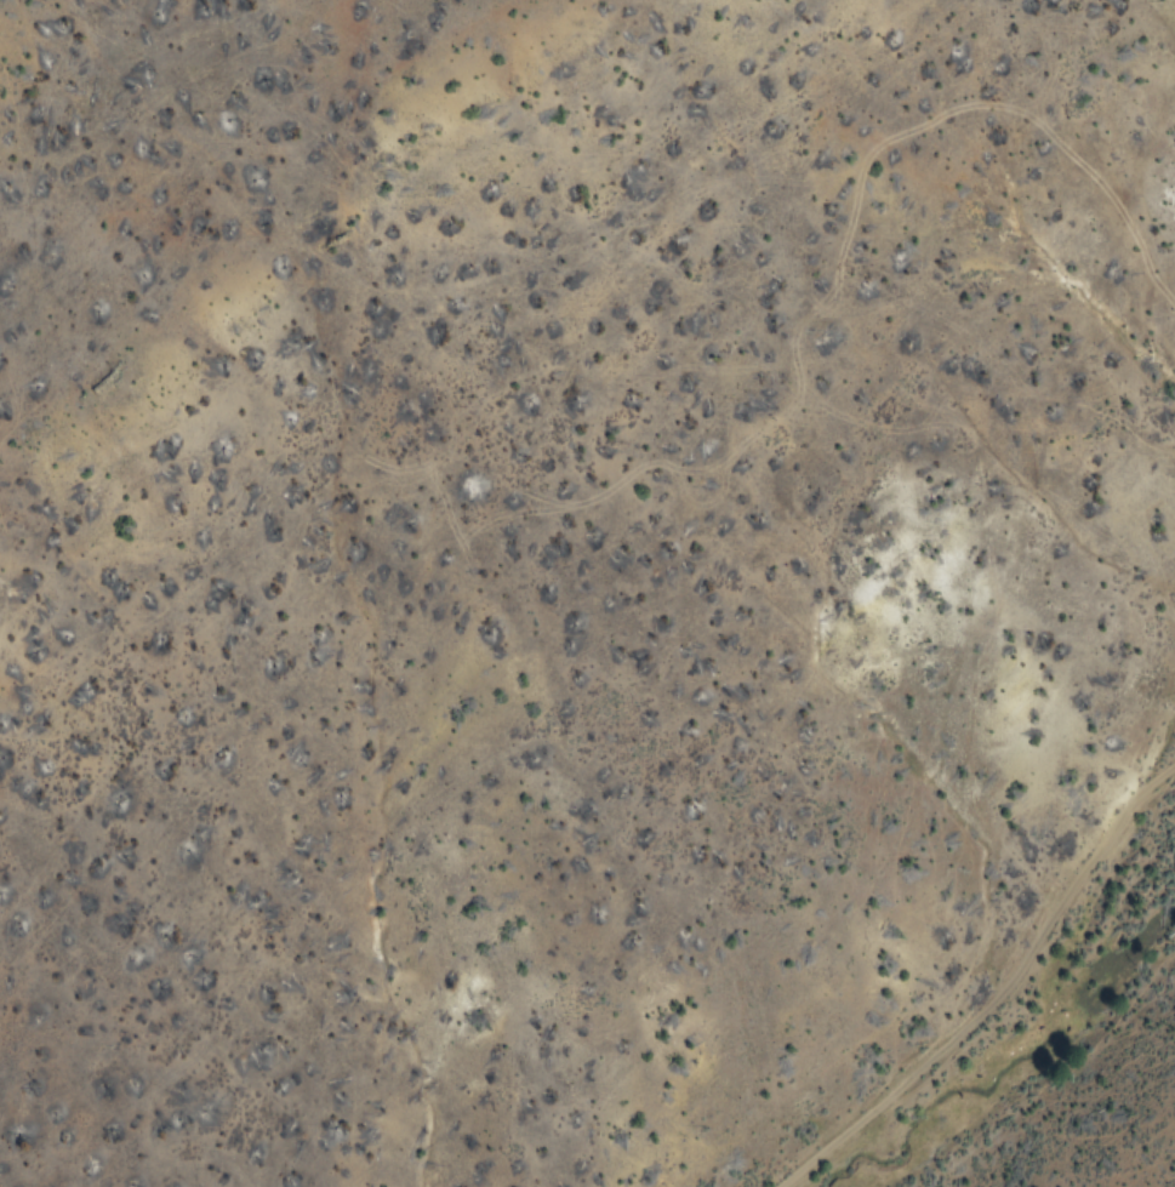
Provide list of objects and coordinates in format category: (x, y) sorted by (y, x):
road: (986, 994)

